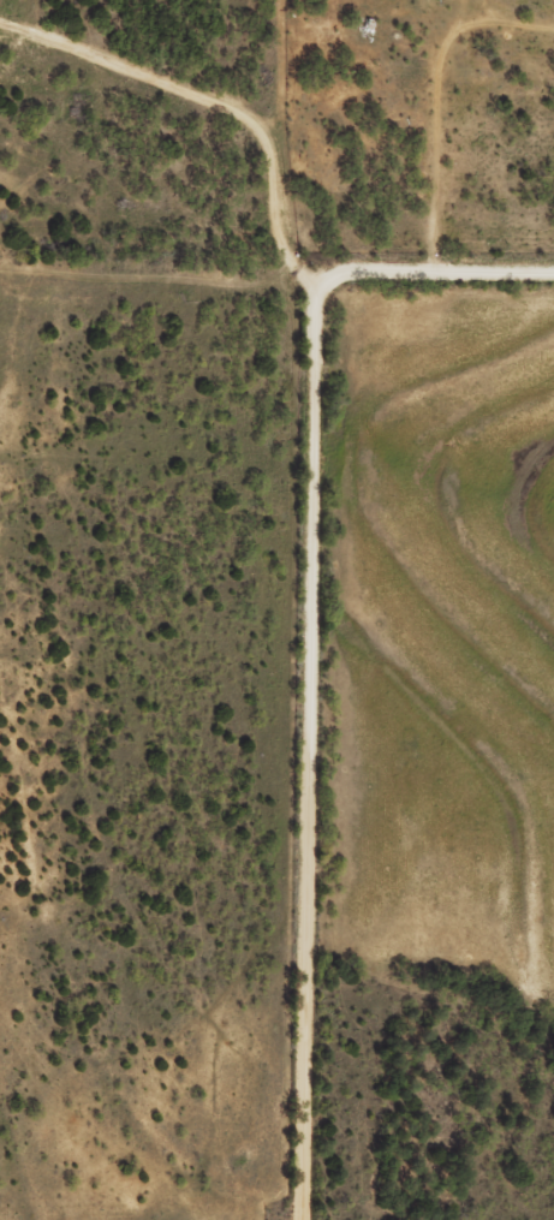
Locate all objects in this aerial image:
road: (213, 113)
road: (429, 278)
road: (310, 762)

